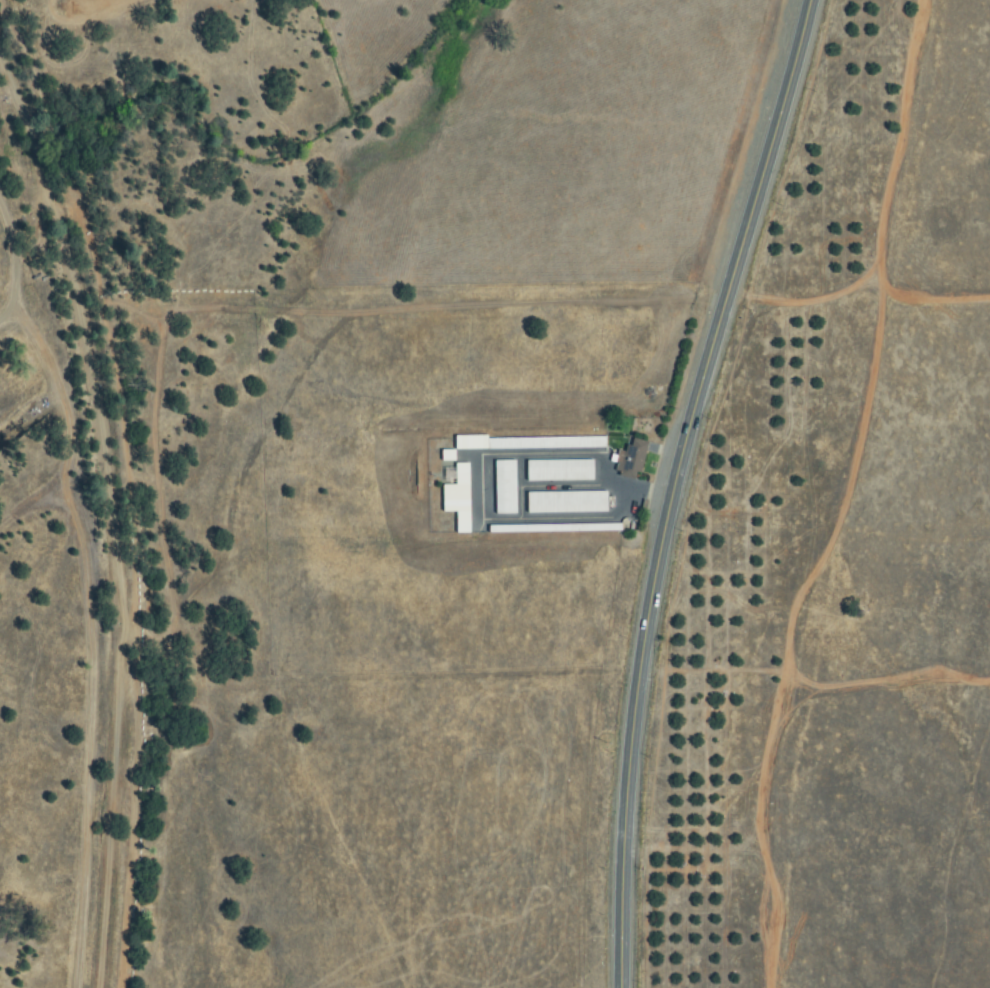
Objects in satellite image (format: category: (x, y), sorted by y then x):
building: (529, 443)
building: (630, 460)
building: (558, 471)
road: (671, 486)
building: (504, 487)
building: (457, 499)
building: (566, 503)
building: (574, 528)

